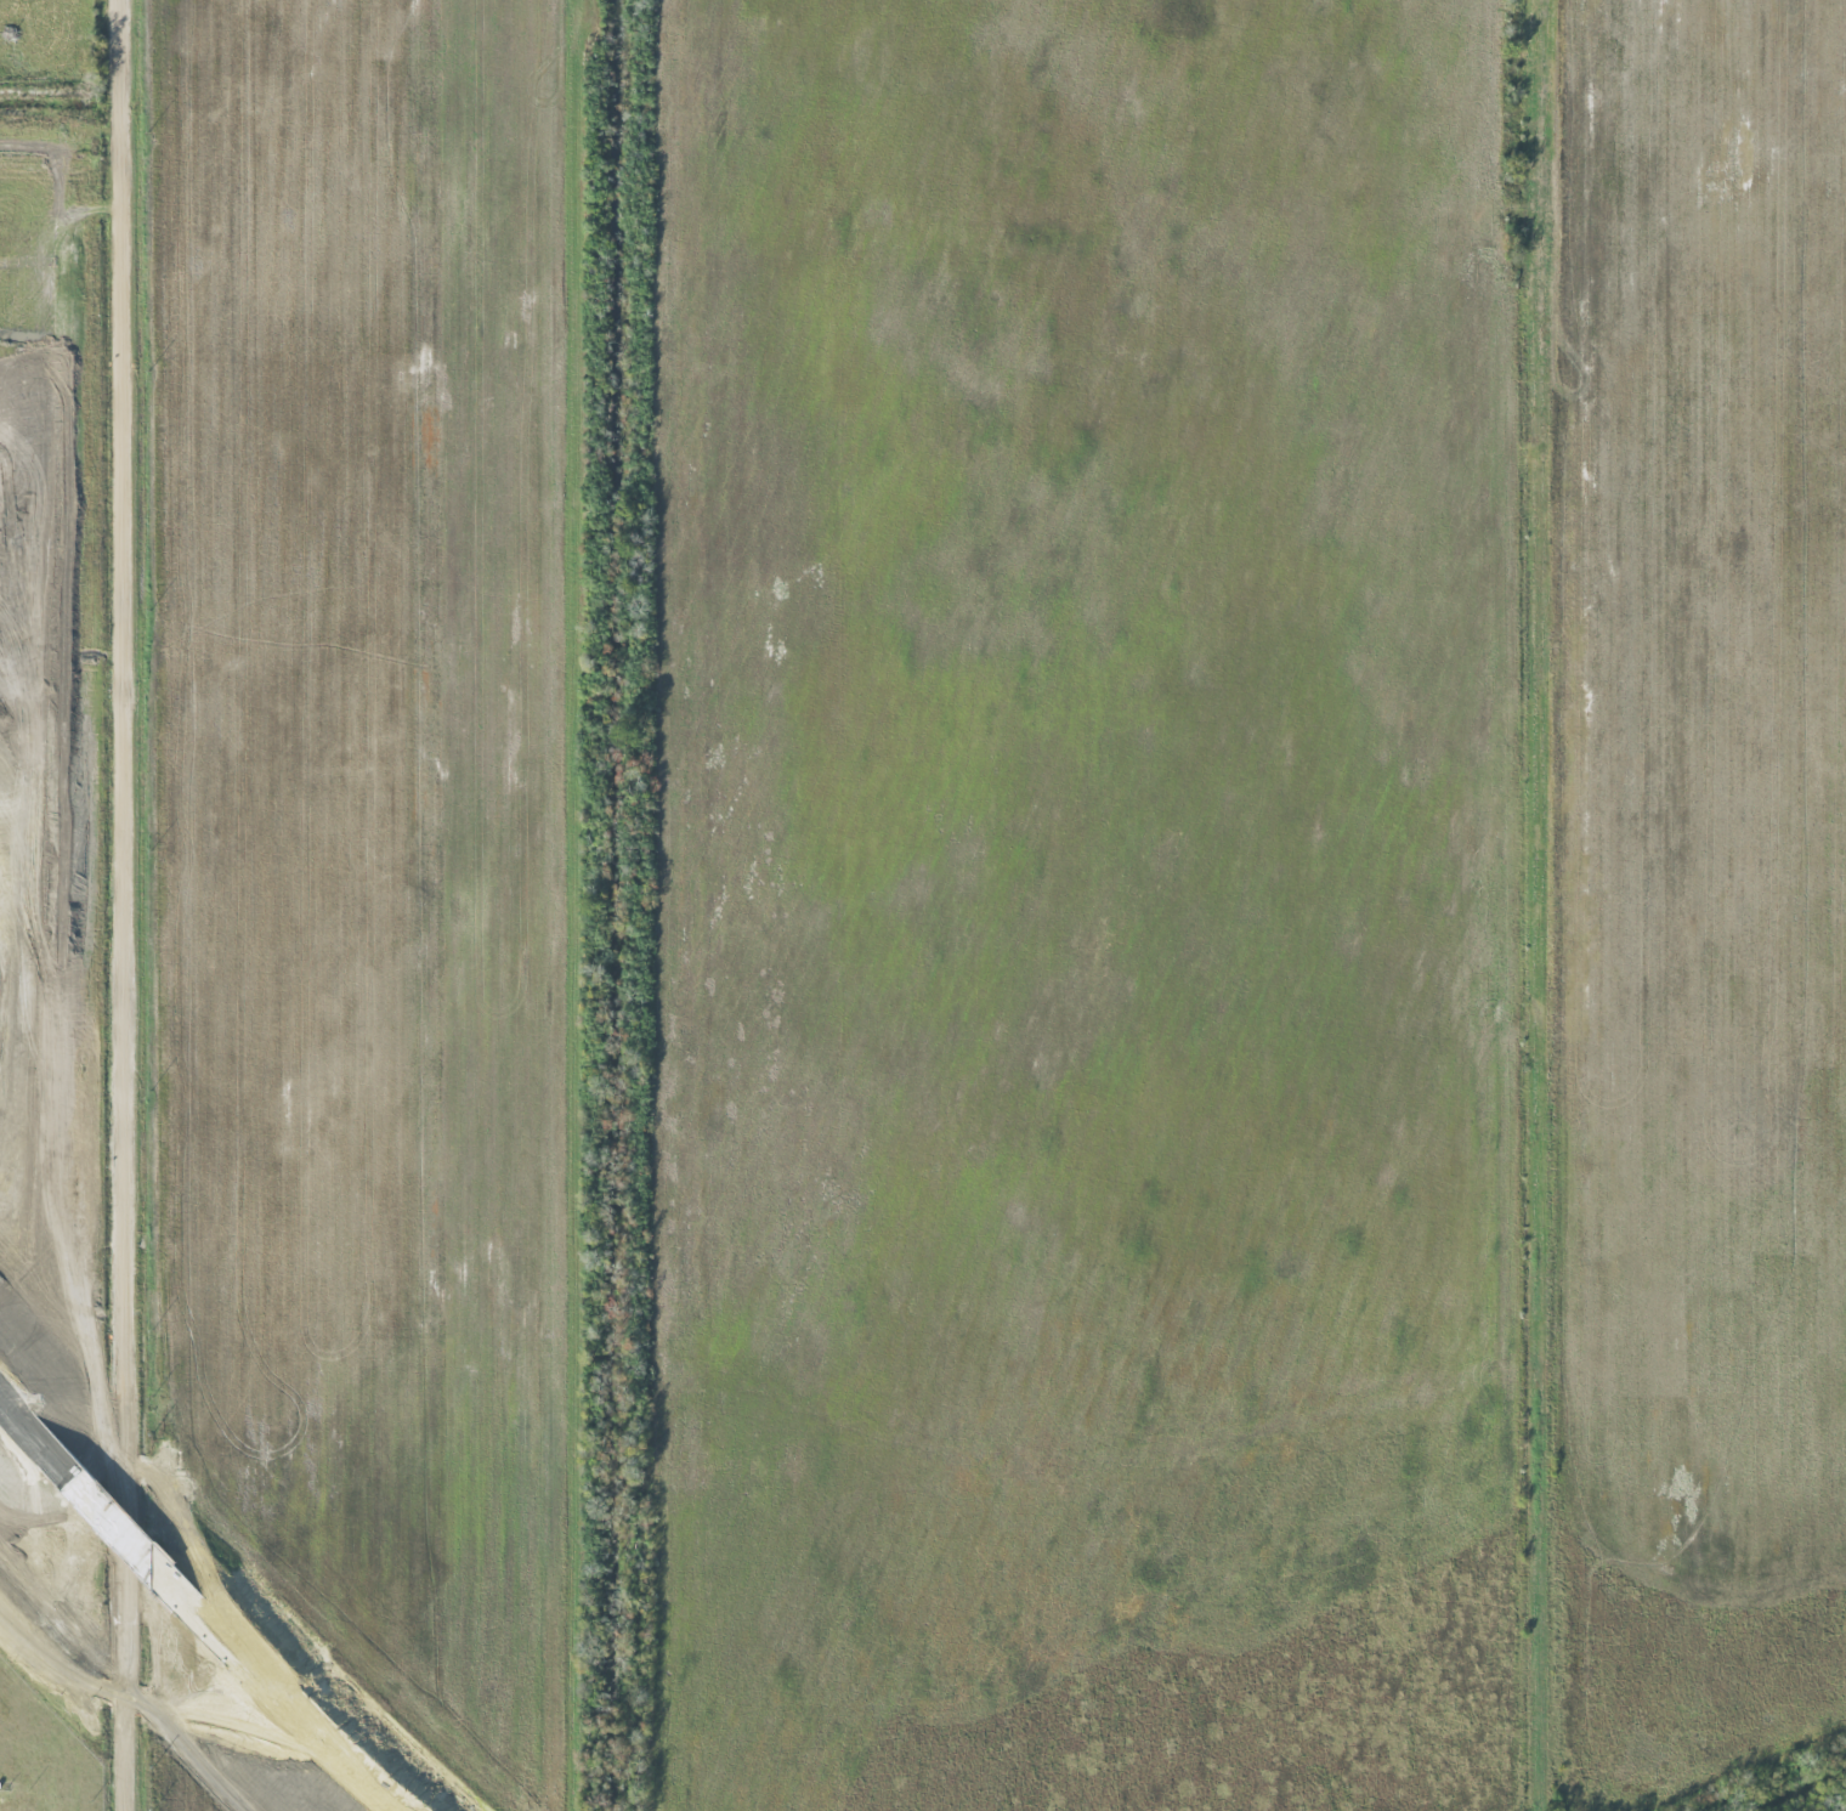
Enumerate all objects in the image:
road: (123, 905)
road: (33, 1444)
road: (107, 1532)
road: (270, 1693)

